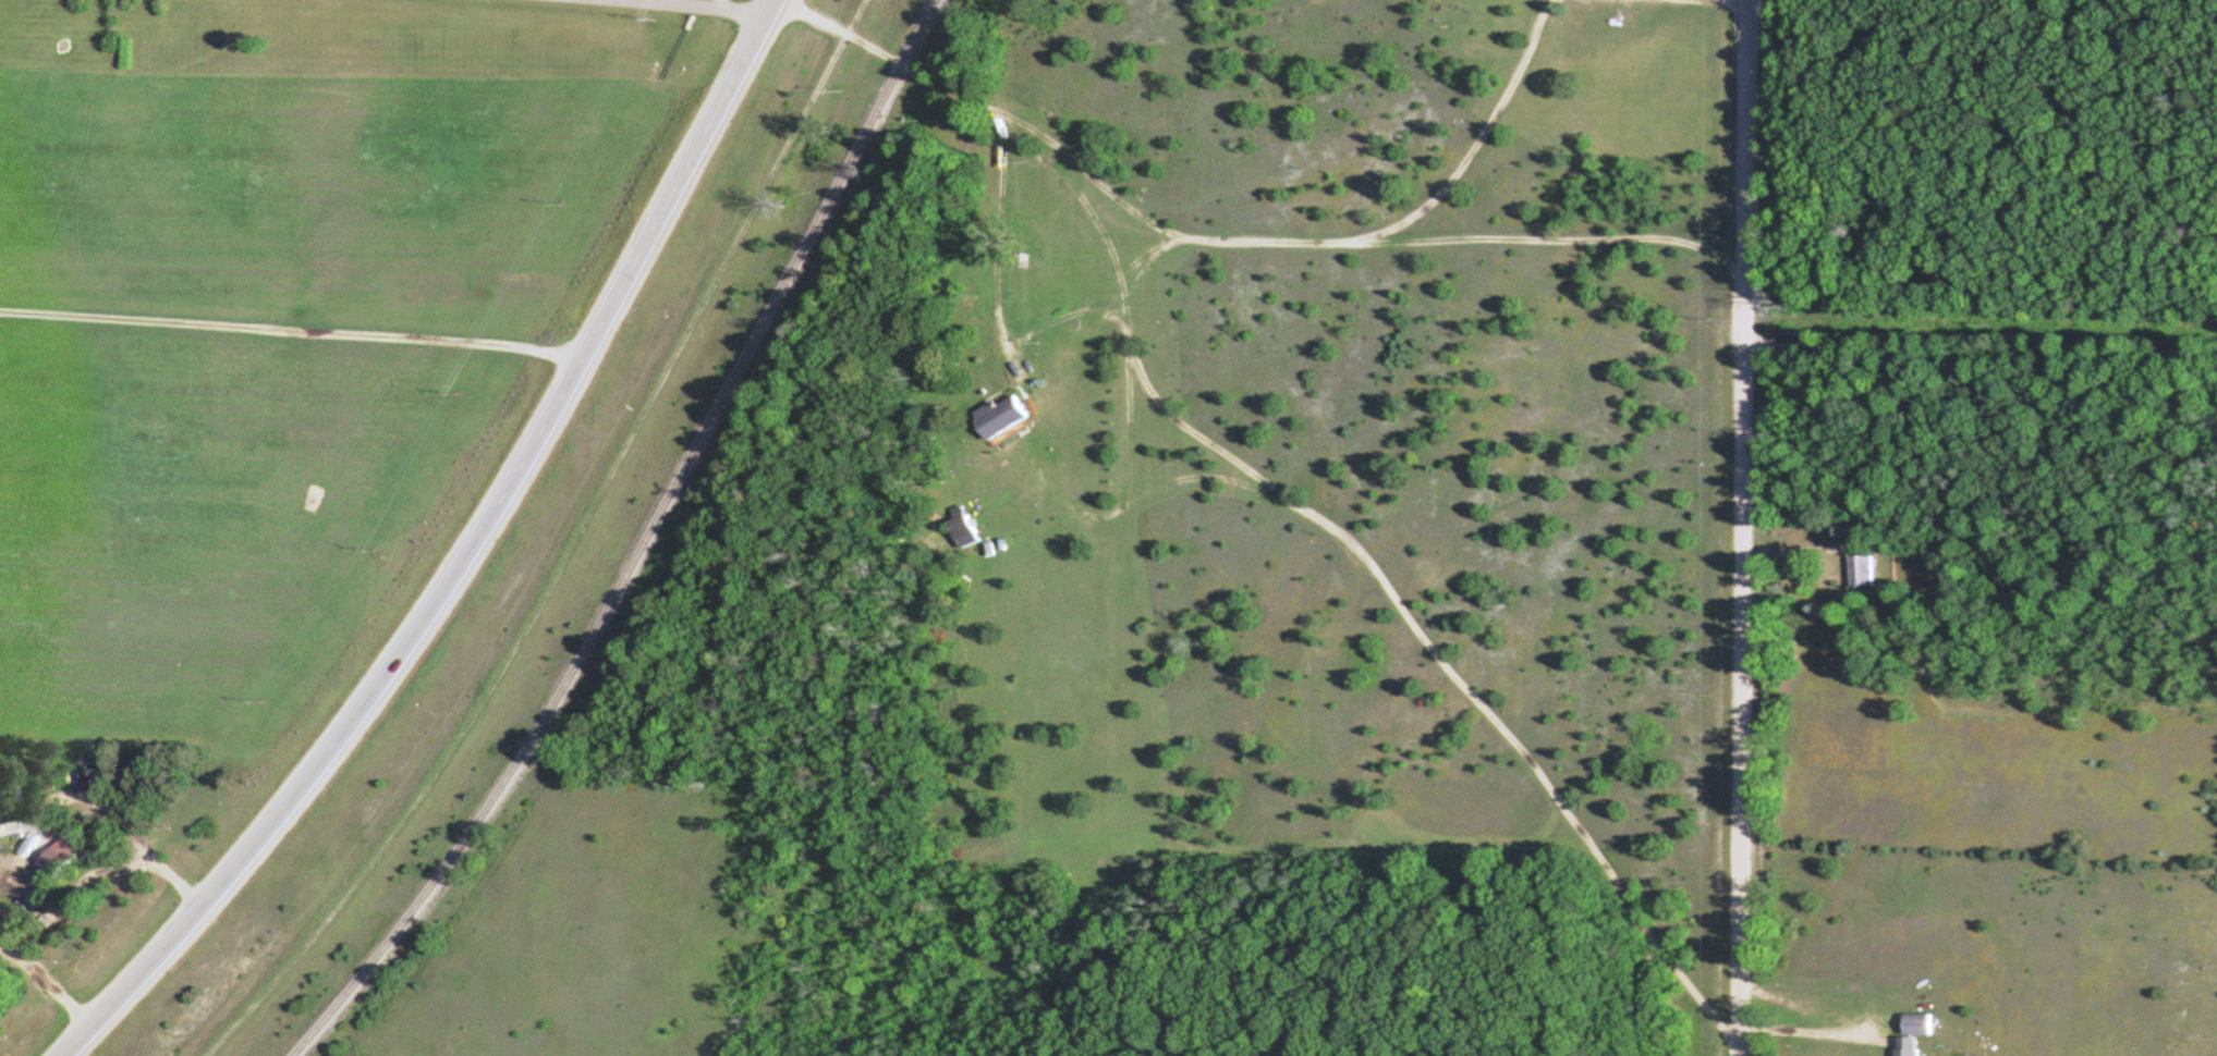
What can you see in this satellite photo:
road: (1731, 1)
road: (691, 5)
road: (884, 56)
road: (1129, 222)
road: (1555, 238)
road: (1313, 242)
road: (996, 243)
road: (1095, 293)
road: (1126, 342)
road: (1980, 349)
building: (995, 415)
road: (1202, 477)
road: (1742, 527)
building: (959, 529)
railway: (639, 545)
road: (565, 550)
road: (1795, 550)
road: (463, 558)
building: (1857, 569)
road: (1453, 674)
building: (14, 826)
road: (1812, 1032)
building: (1909, 1033)

